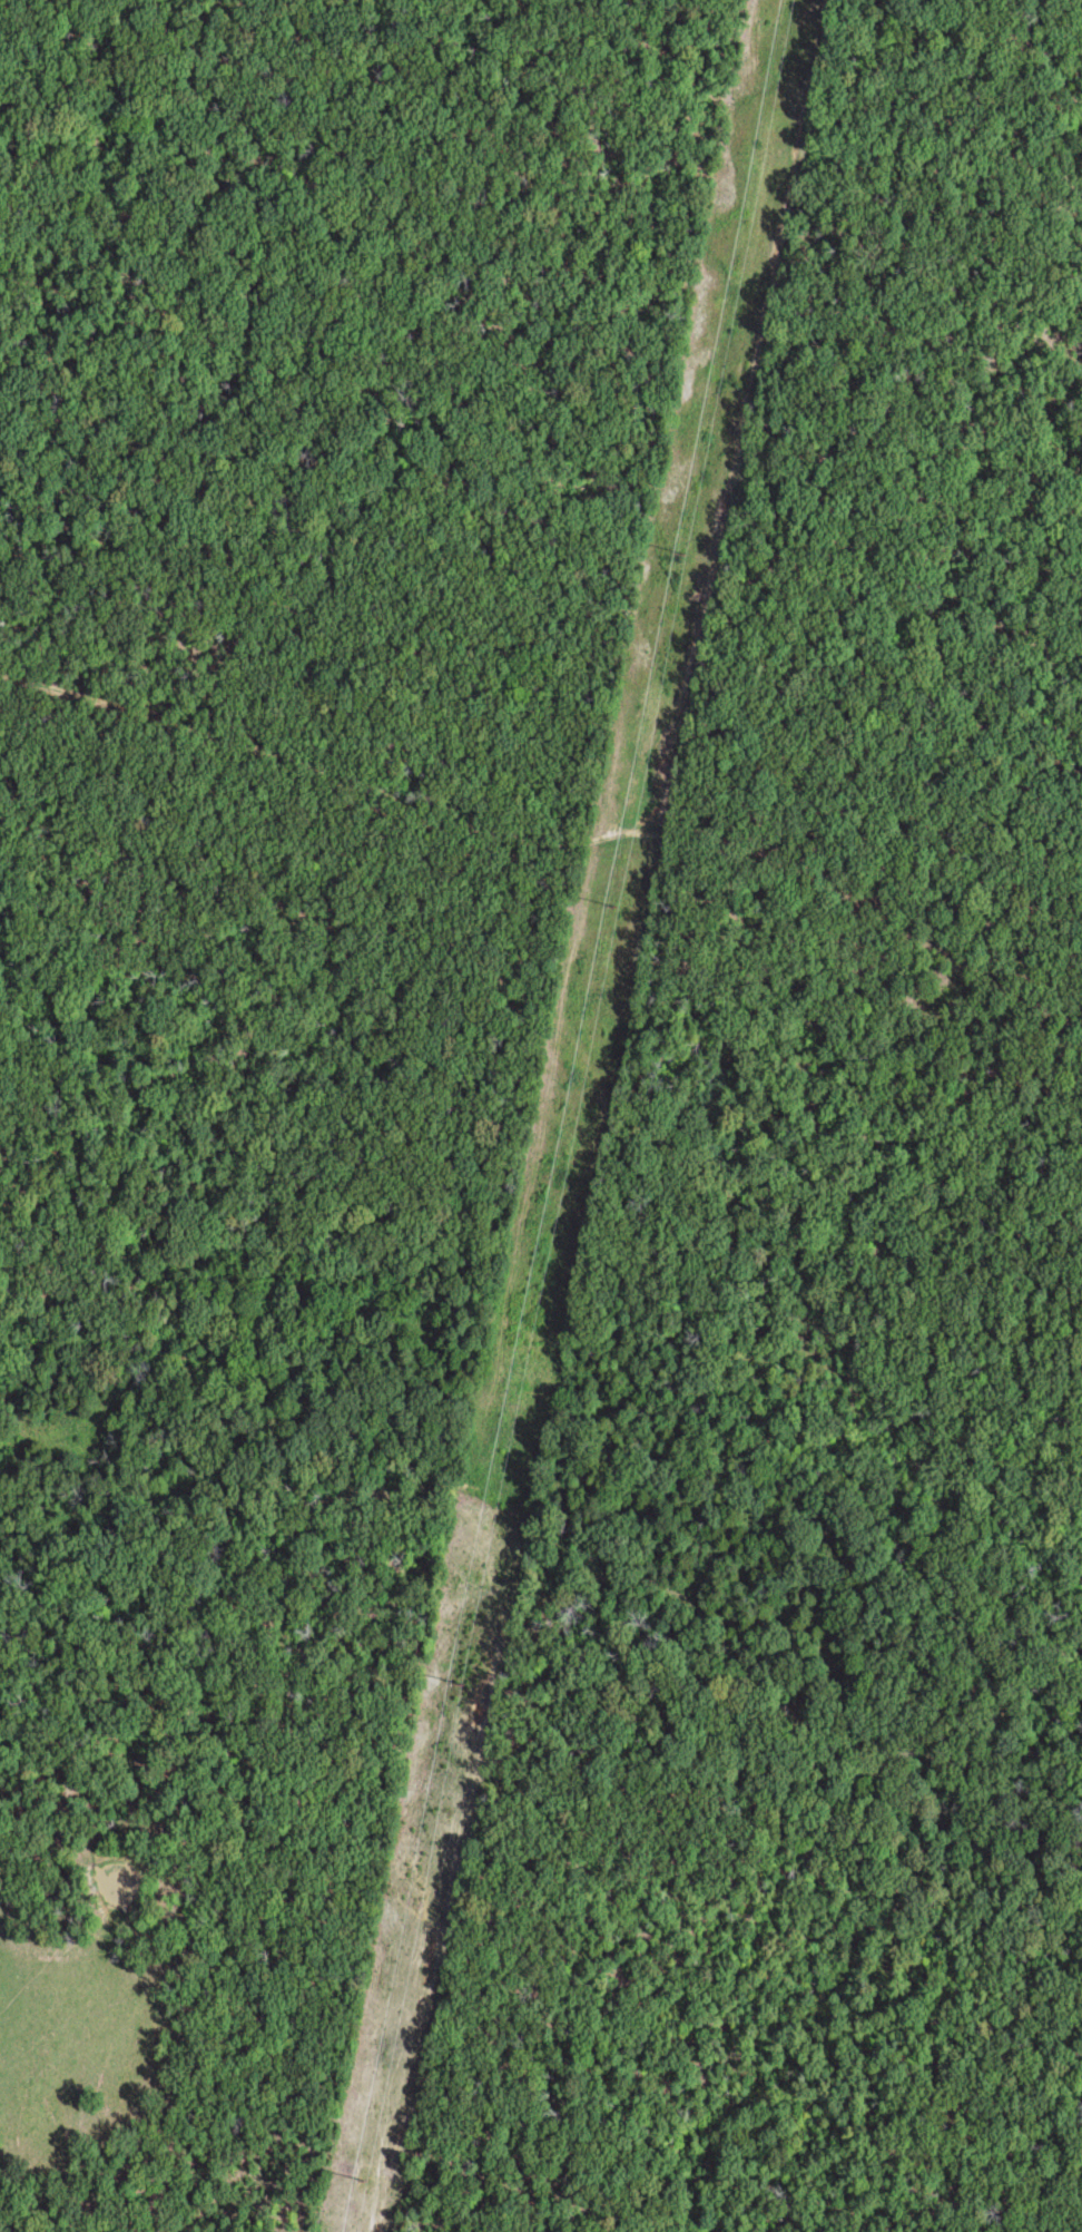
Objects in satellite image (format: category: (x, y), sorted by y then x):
power tower: (683, 554)
power tower: (613, 910)
power tower: (461, 1688)
power tower: (362, 2185)

